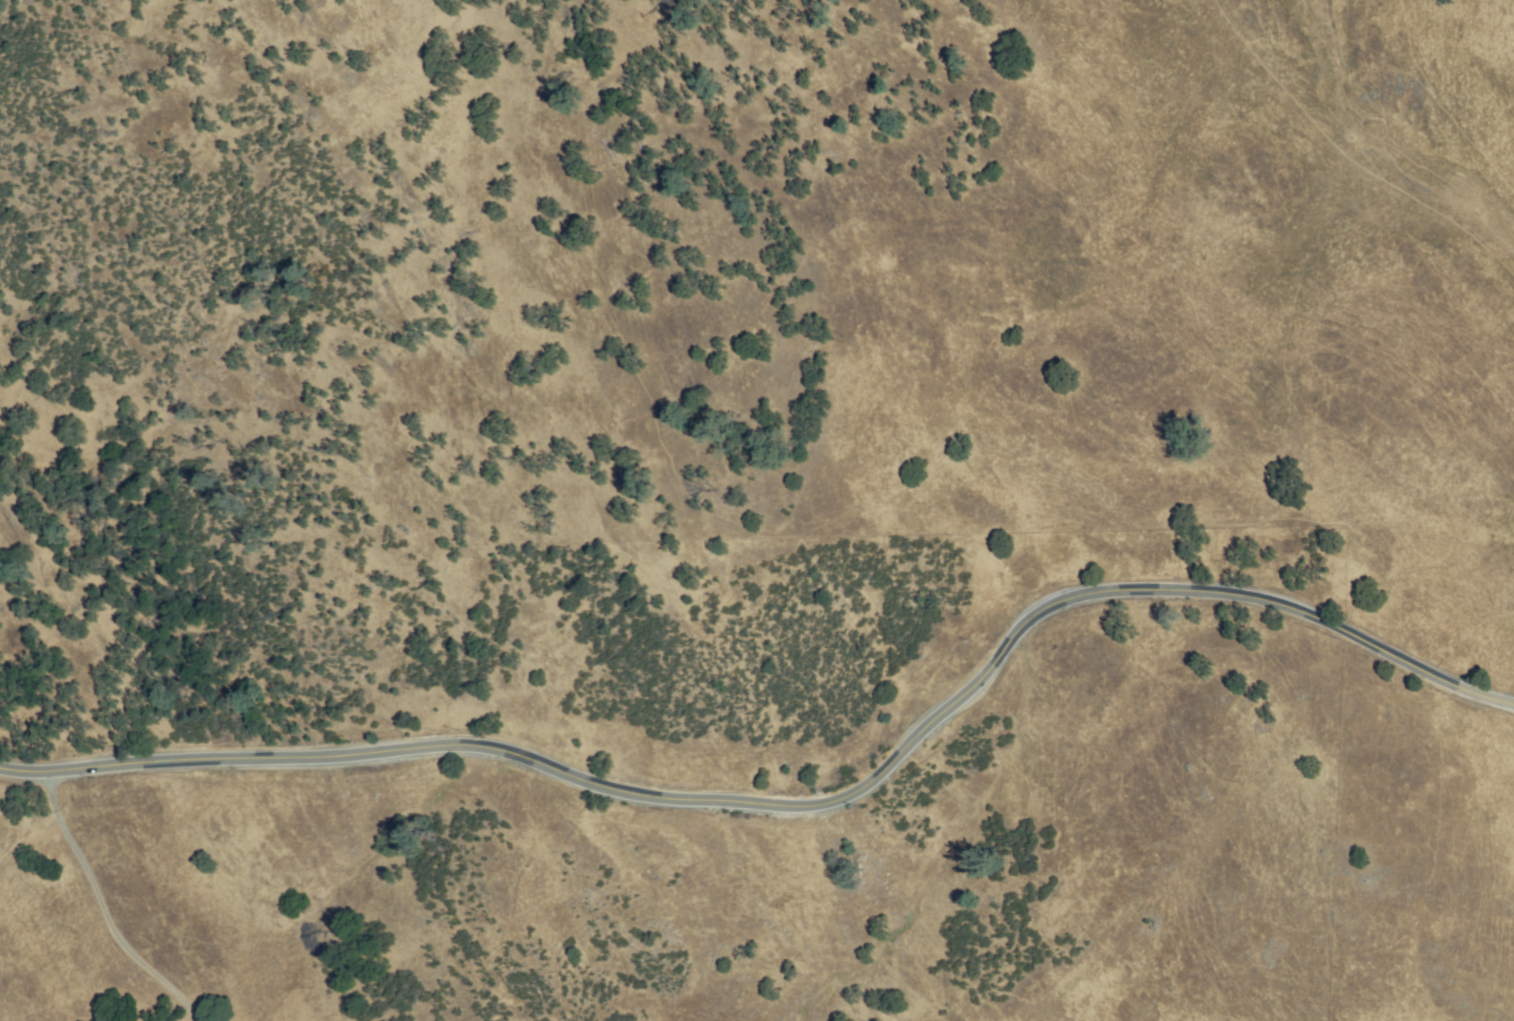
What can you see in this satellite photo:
road: (803, 806)

